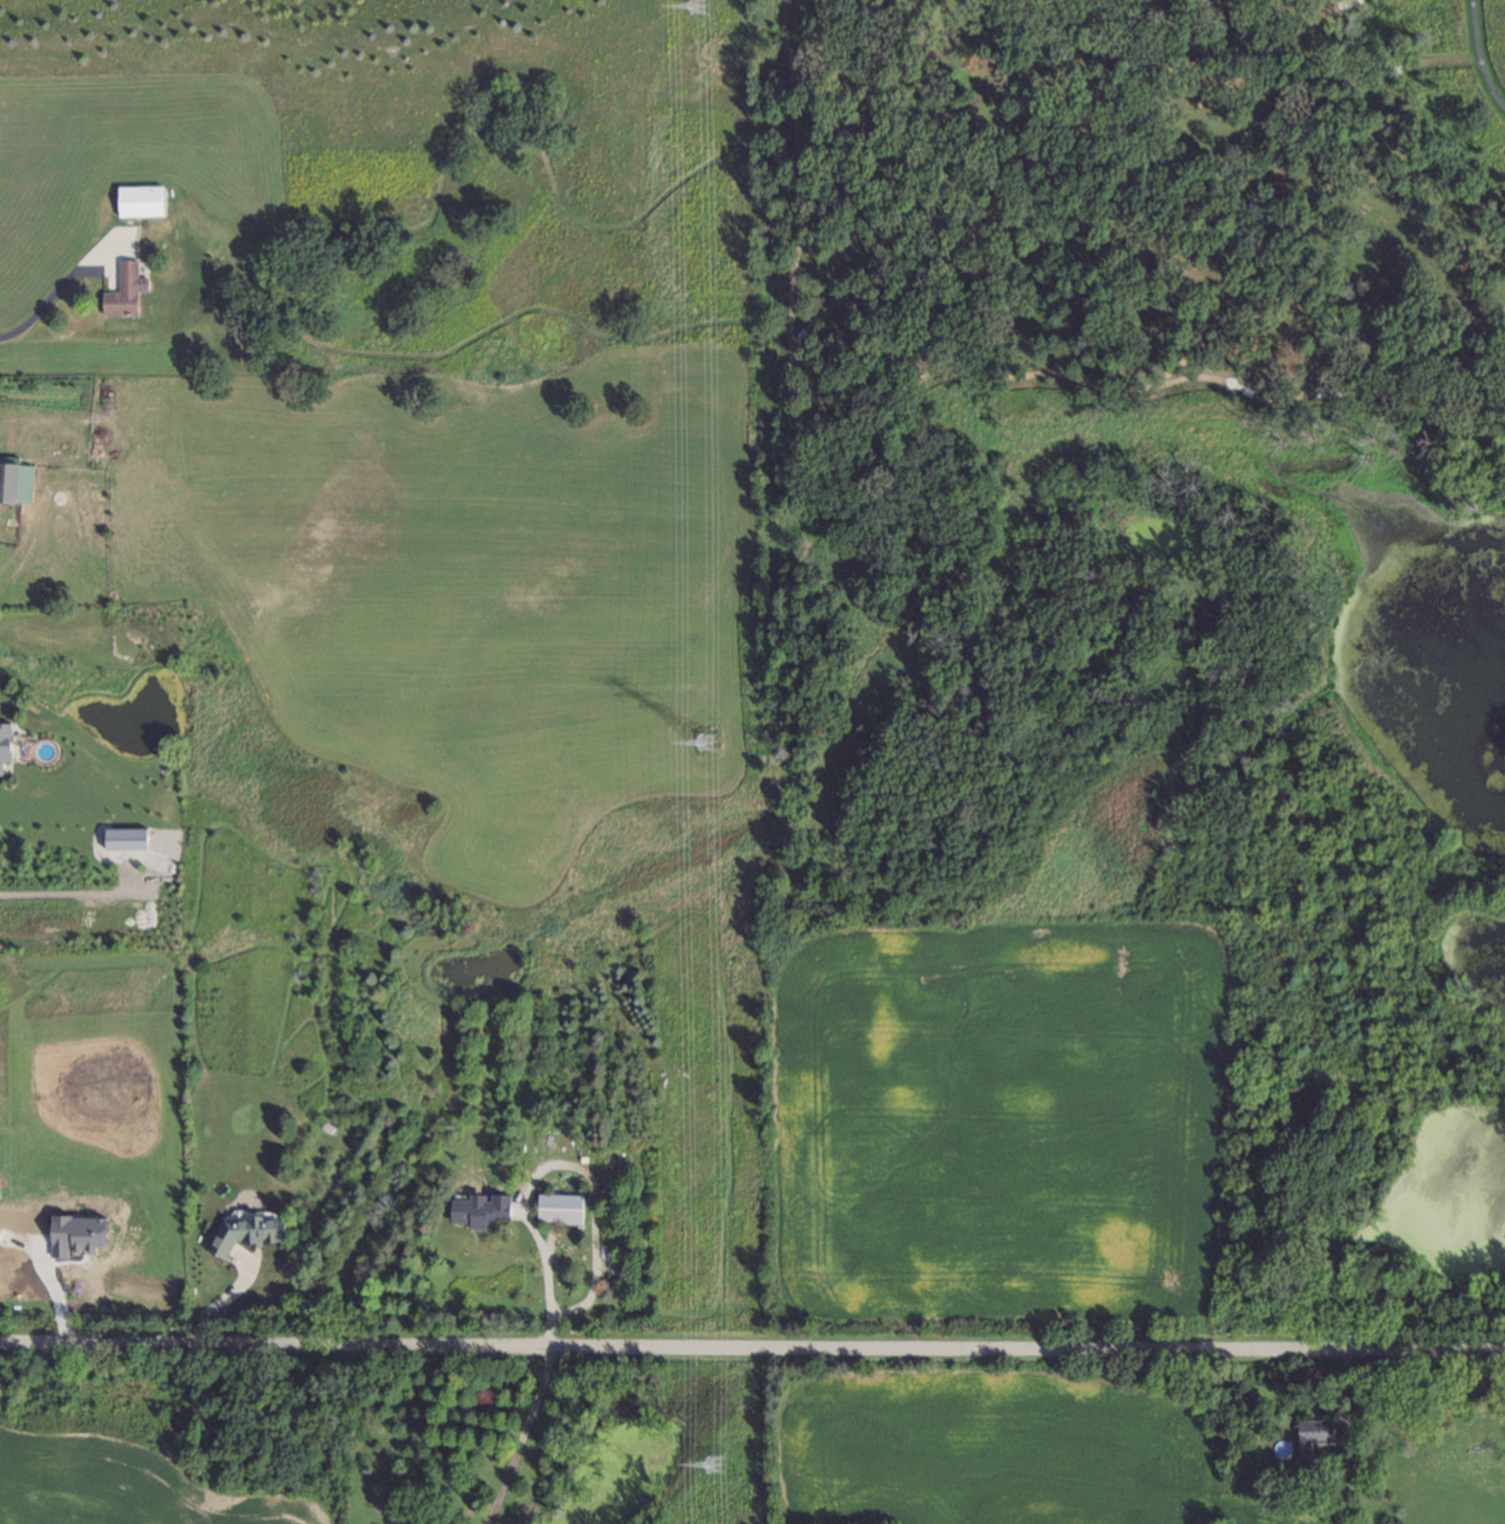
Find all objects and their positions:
power tower: (702, 11)
road: (1475, 57)
building: (141, 203)
building: (125, 293)
road: (40, 305)
building: (16, 483)
building: (5, 743)
power tower: (710, 745)
building: (125, 840)
building: (324, 1129)
road: (550, 1162)
building: (559, 1210)
building: (244, 1233)
road: (223, 1294)
road: (752, 1350)
building: (1310, 1430)
road: (519, 1437)
power tower: (720, 1473)

